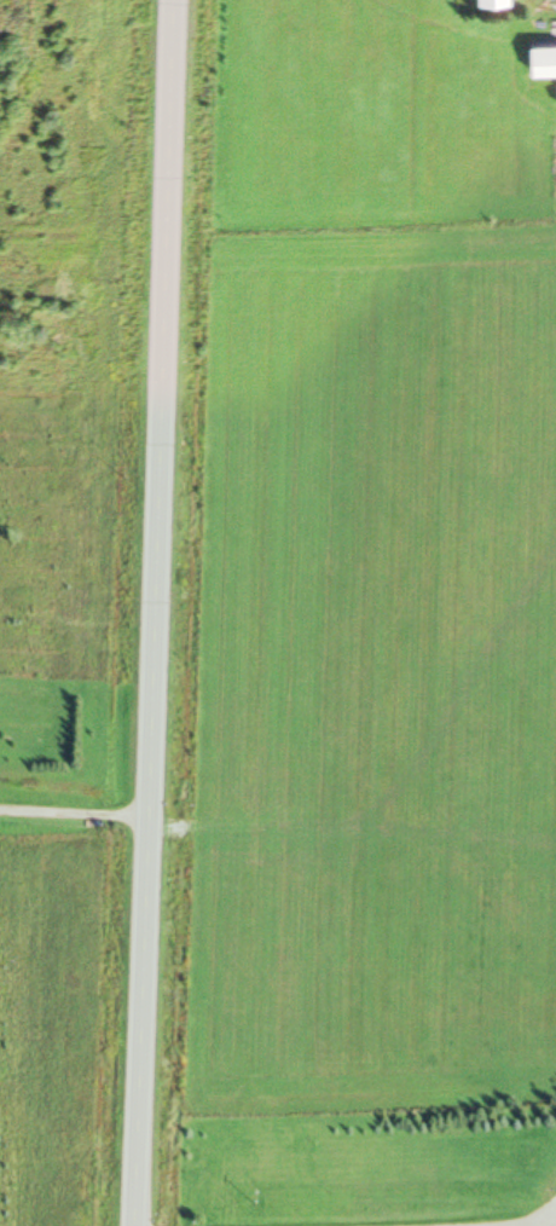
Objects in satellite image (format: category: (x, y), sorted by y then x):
building: (545, 54)
road: (156, 613)
road: (75, 806)

